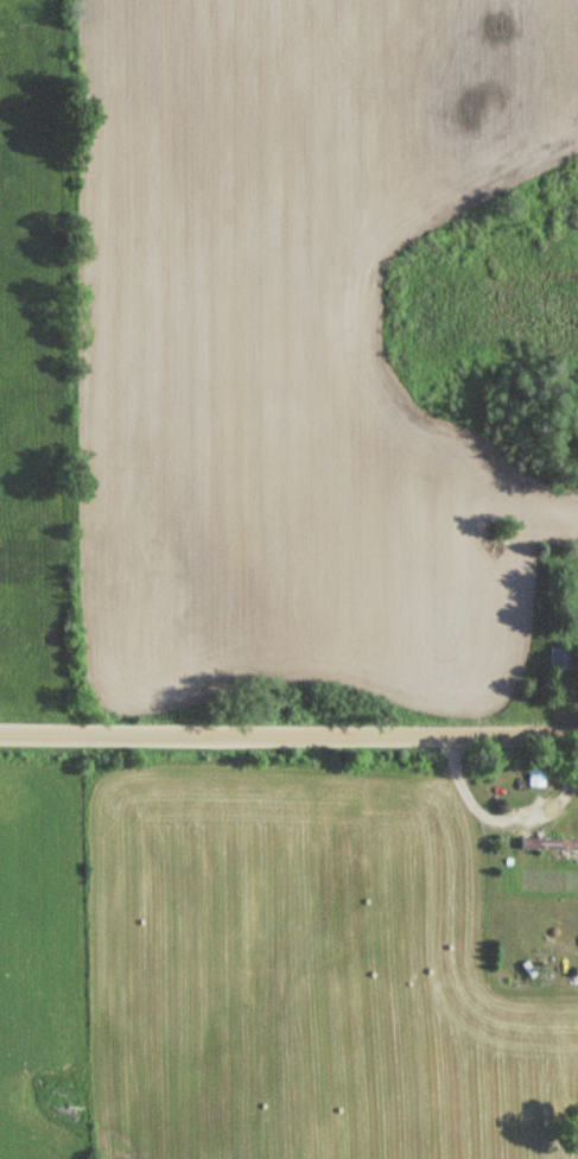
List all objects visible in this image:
building: (559, 659)
road: (288, 741)
building: (534, 777)
building: (547, 844)

